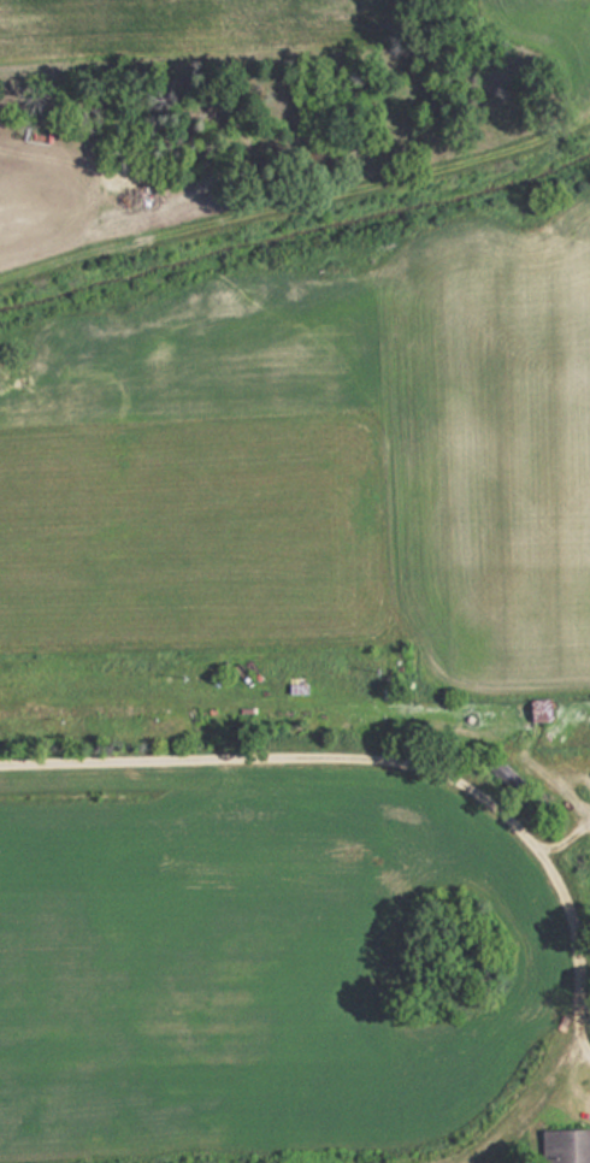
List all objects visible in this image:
building: (296, 686)
building: (538, 708)
road: (589, 808)
road: (577, 1049)
building: (565, 1145)

